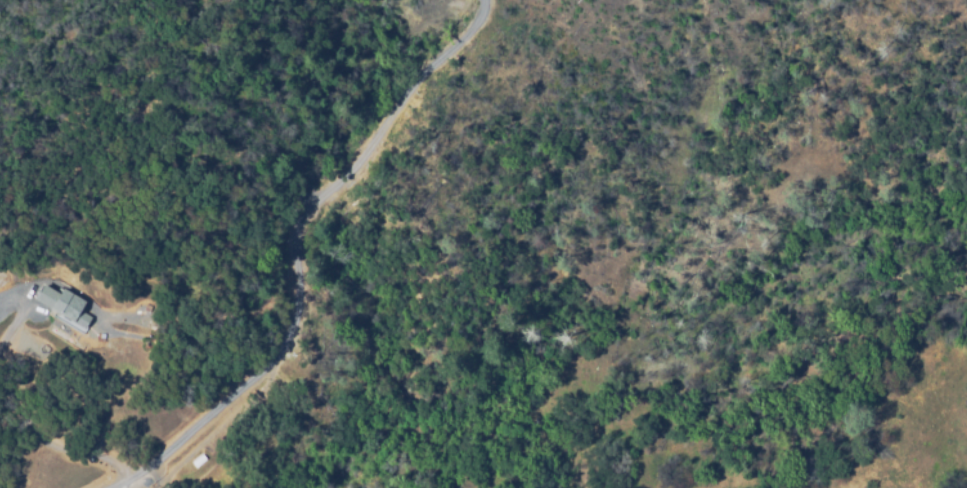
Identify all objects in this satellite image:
road: (297, 250)
building: (62, 306)

